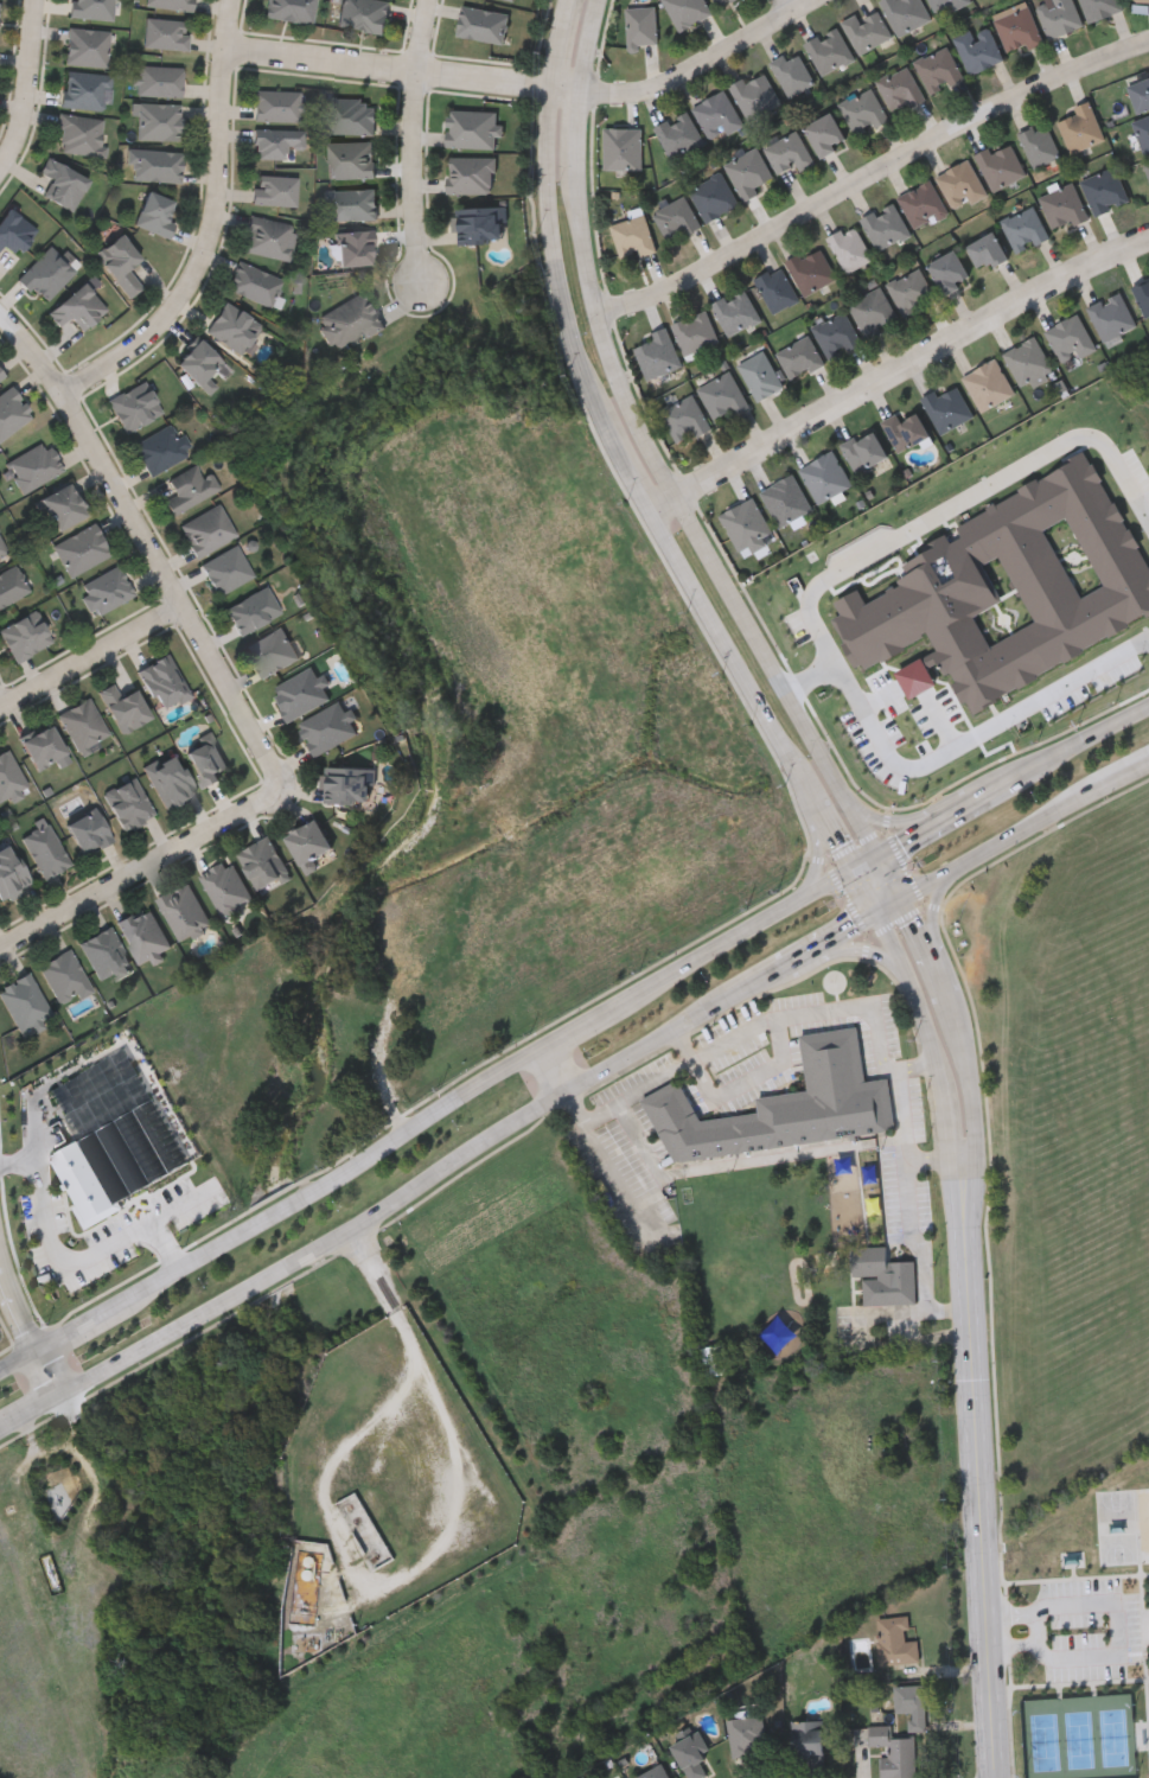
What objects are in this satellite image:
building: (511, 0)
building: (1142, 0)
building: (721, 1)
building: (947, 5)
road: (786, 6)
building: (1100, 7)
building: (90, 9)
building: (287, 11)
building: (688, 11)
building: (907, 13)
building: (362, 14)
building: (1059, 15)
building: (480, 24)
building: (643, 26)
building: (1017, 27)
building: (868, 30)
building: (164, 34)
road: (421, 36)
road: (587, 46)
building: (85, 47)
building: (978, 47)
building: (831, 50)
road: (702, 62)
building: (939, 69)
road: (403, 71)
building: (794, 71)
building: (158, 82)
building: (901, 89)
road: (27, 90)
building: (84, 90)
building: (757, 94)
building: (1140, 94)
building: (275, 107)
building: (864, 111)
building: (719, 115)
building: (349, 116)
building: (158, 122)
building: (1081, 127)
building: (468, 129)
building: (1143, 132)
building: (679, 134)
building: (825, 134)
building: (78, 135)
road: (575, 139)
building: (274, 144)
building: (1040, 145)
building: (623, 148)
building: (790, 152)
building: (347, 160)
building: (1148, 165)
building: (154, 166)
building: (1001, 166)
building: (1148, 168)
road: (868, 170)
building: (749, 172)
building: (468, 176)
road: (413, 181)
building: (963, 183)
building: (60, 185)
building: (1105, 190)
building: (272, 191)
building: (714, 196)
building: (924, 203)
building: (350, 204)
building: (1064, 206)
building: (152, 215)
building: (676, 218)
building: (886, 224)
building: (477, 225)
building: (1024, 228)
road: (211, 230)
building: (13, 231)
building: (632, 236)
building: (266, 238)
building: (849, 247)
building: (351, 249)
building: (987, 249)
road: (560, 262)
building: (116, 265)
building: (812, 269)
building: (949, 269)
building: (45, 273)
building: (251, 283)
building: (777, 288)
building: (911, 289)
building: (1143, 294)
building: (75, 307)
building: (735, 310)
building: (874, 311)
building: (1112, 316)
building: (346, 321)
building: (230, 327)
building: (695, 331)
building: (837, 333)
building: (1070, 338)
road: (606, 346)
building: (657, 353)
building: (799, 356)
road: (909, 359)
building: (194, 362)
building: (1029, 362)
building: (760, 374)
building: (0, 376)
building: (989, 383)
building: (722, 394)
building: (132, 407)
building: (947, 407)
building: (11, 412)
building: (684, 418)
building: (905, 429)
building: (159, 450)
building: (864, 450)
building: (31, 466)
building: (825, 476)
building: (187, 489)
building: (785, 499)
building: (1141, 502)
road: (662, 503)
building: (63, 506)
road: (933, 521)
building: (746, 528)
building: (205, 531)
road: (148, 548)
building: (79, 549)
building: (2, 550)
building: (1104, 560)
building: (224, 571)
building: (11, 585)
building: (103, 591)
building: (249, 611)
building: (1129, 612)
building: (24, 635)
building: (269, 651)
road: (90, 657)
road: (778, 673)
building: (160, 682)
building: (298, 694)
building: (120, 707)
building: (81, 725)
building: (325, 727)
road: (975, 737)
building: (38, 746)
building: (203, 758)
building: (8, 776)
building: (166, 779)
road: (1015, 779)
building: (346, 784)
building: (126, 803)
road: (895, 820)
road: (828, 823)
road: (1027, 830)
building: (84, 831)
building: (305, 843)
road: (817, 845)
building: (44, 850)
traffic signals: (882, 850)
building: (261, 863)
traffic signals: (853, 867)
road: (142, 868)
road: (894, 872)
building: (11, 873)
building: (223, 887)
traffic signals: (907, 894)
road: (934, 909)
building: (181, 911)
traffic signals: (877, 911)
road: (919, 920)
building: (141, 933)
road: (858, 951)
building: (101, 952)
road: (940, 969)
building: (62, 977)
building: (20, 1002)
road: (736, 1038)
road: (683, 1047)
road: (554, 1068)
road: (917, 1068)
road: (748, 1082)
road: (971, 1089)
building: (784, 1105)
road: (440, 1111)
road: (902, 1117)
road: (968, 1156)
road: (936, 1161)
road: (453, 1162)
road: (726, 1165)
road: (966, 1174)
road: (618, 1185)
building: (749, 1223)
road: (915, 1238)
road: (69, 1260)
building: (883, 1275)
park: (9, 1327)
road: (25, 1330)
road: (862, 1332)
building: (715, 1363)
road: (985, 1484)
road: (1016, 1614)
road: (1039, 1630)
road: (1119, 1633)
park: (1080, 1638)
building: (896, 1639)
road: (1017, 1646)
building: (913, 1702)
building: (809, 1741)
building: (895, 1752)
building: (689, 1758)
building: (652, 1773)

